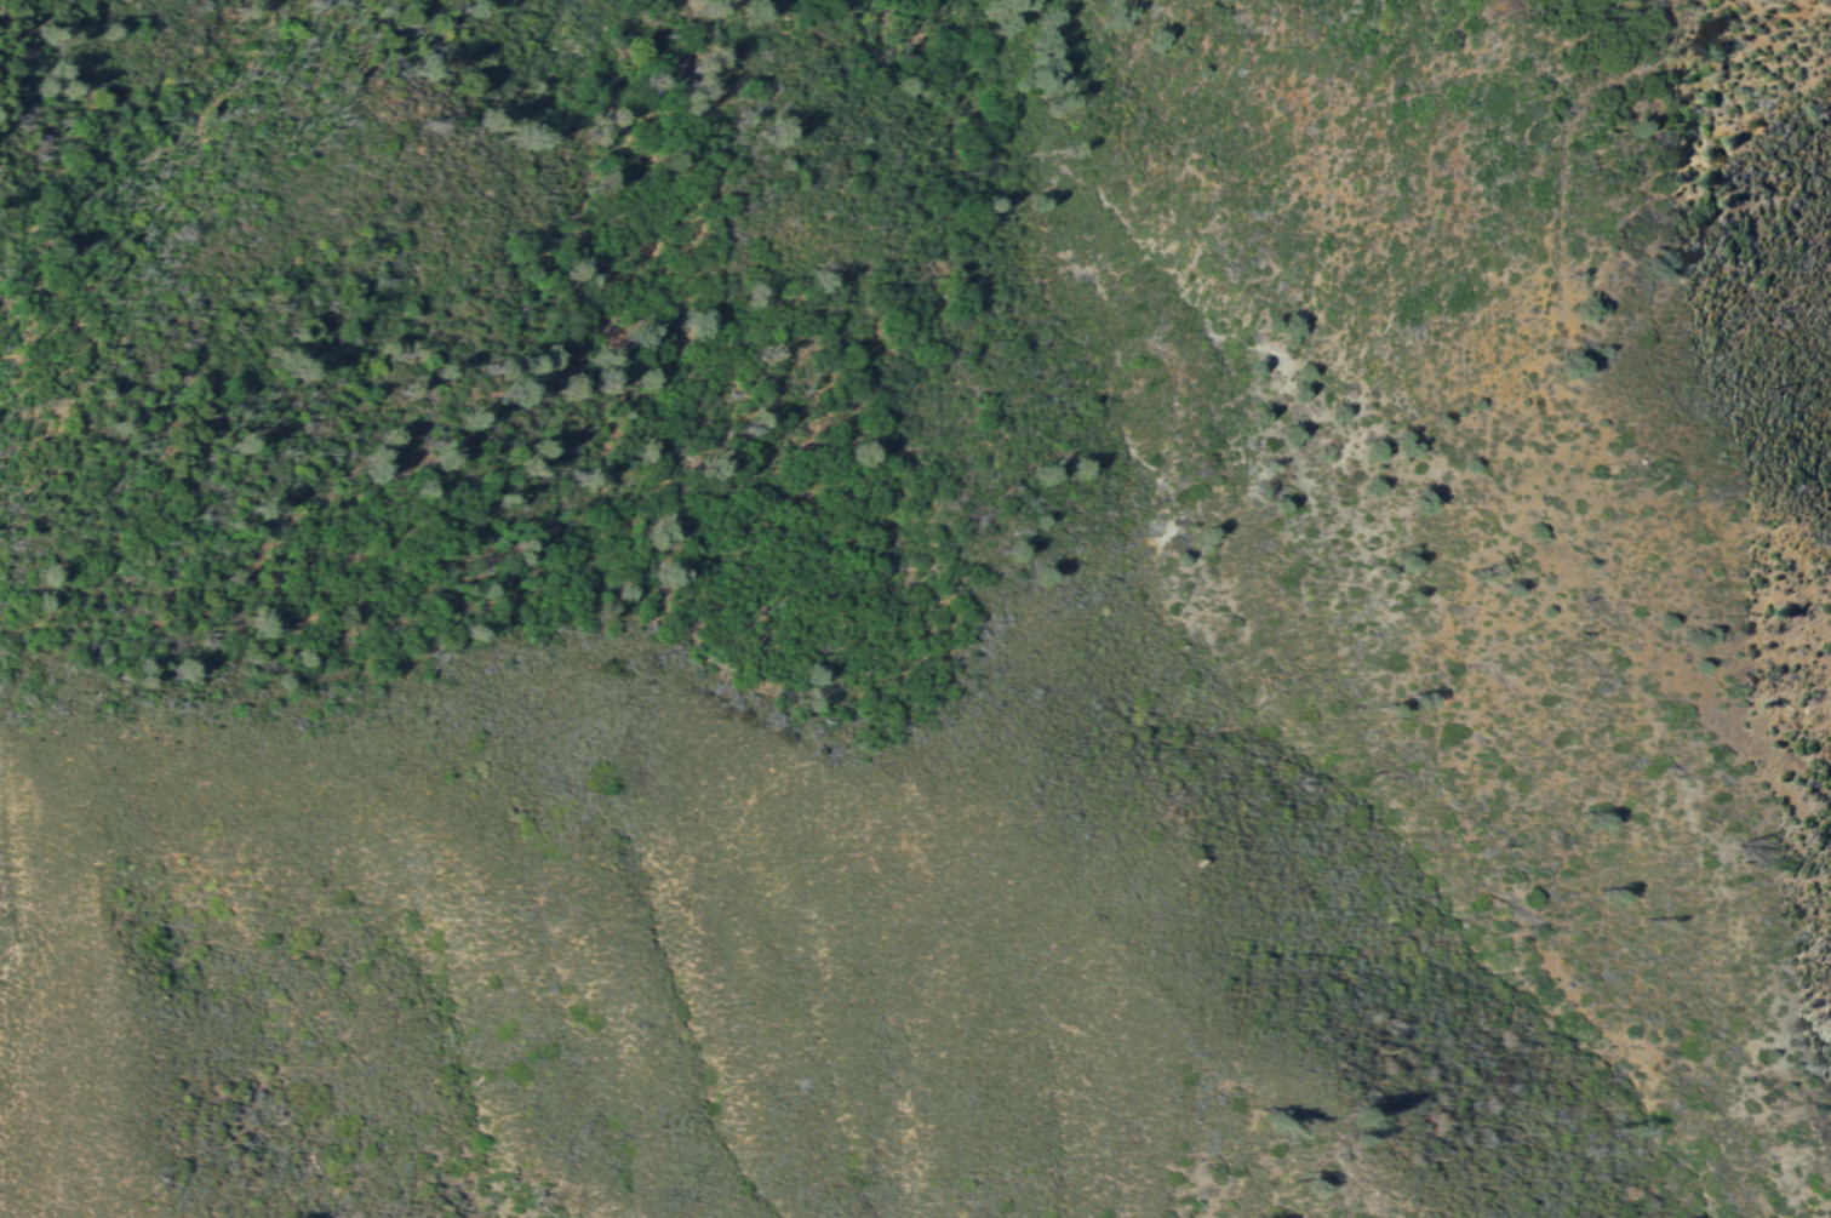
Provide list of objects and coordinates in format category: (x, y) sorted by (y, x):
road: (996, 679)

